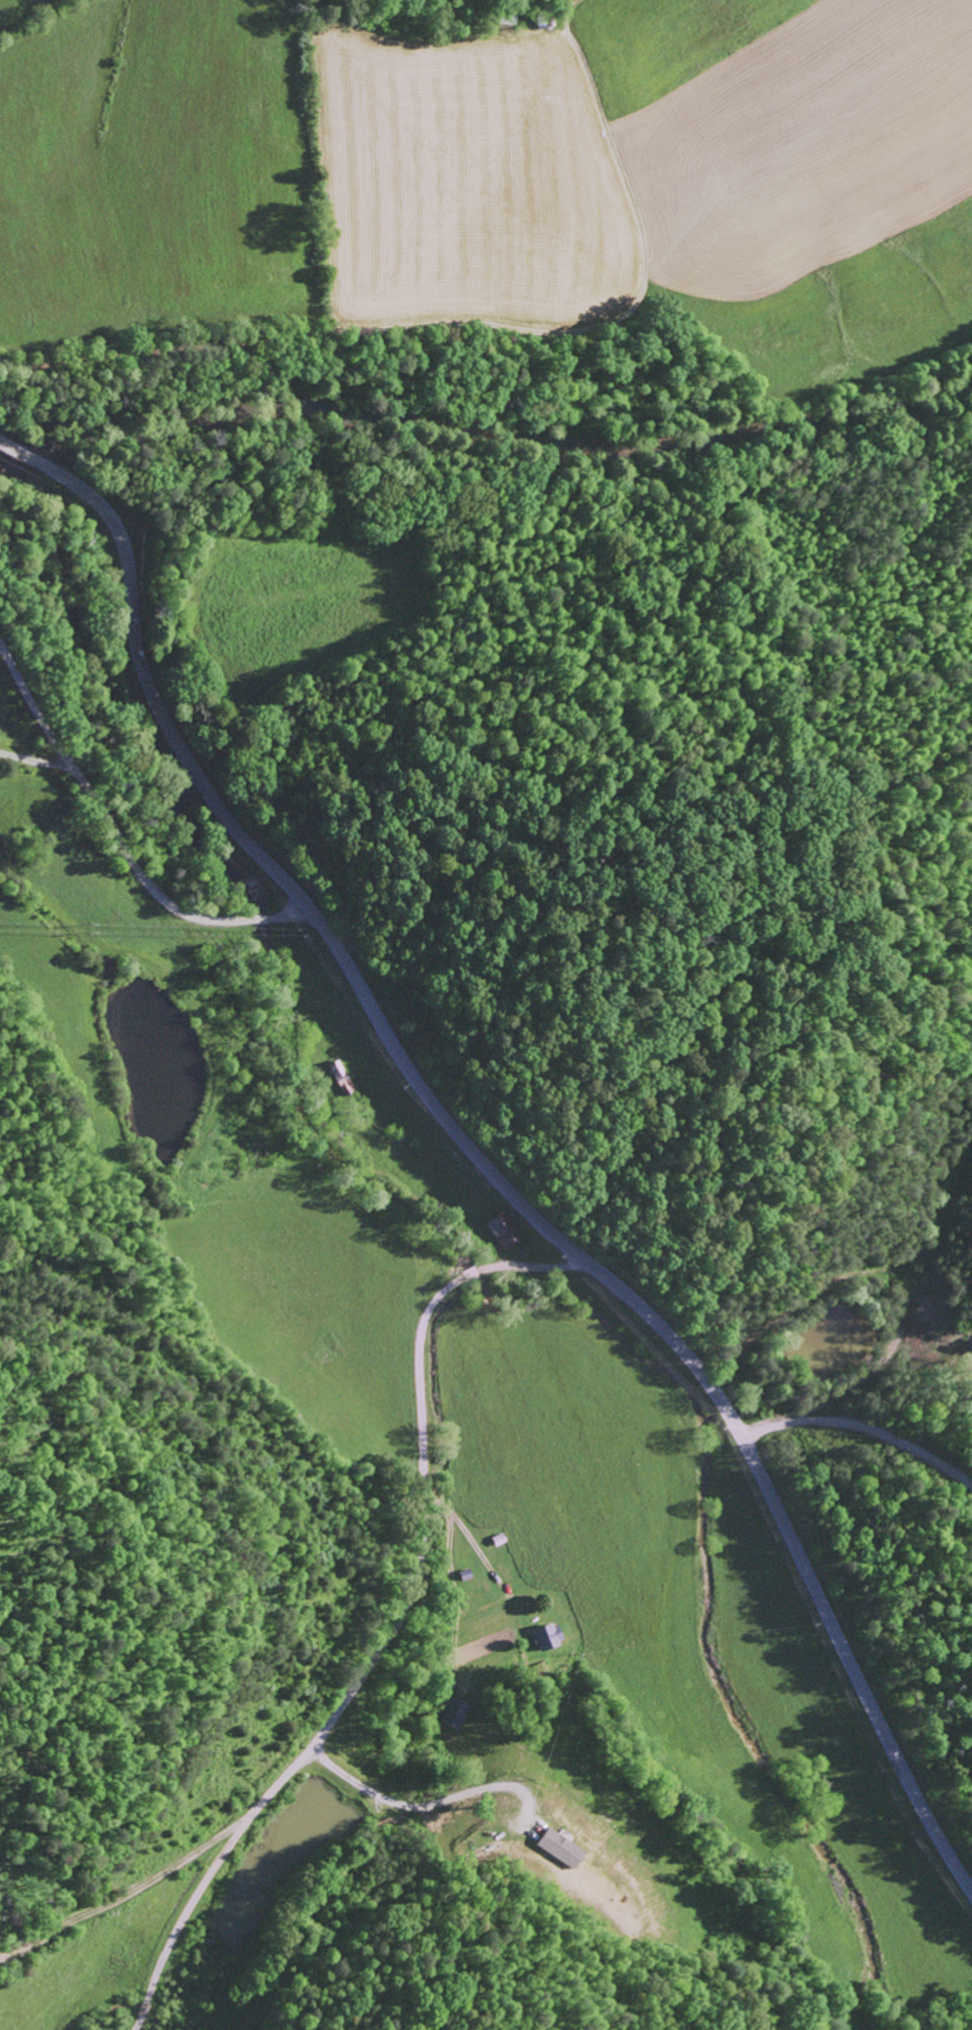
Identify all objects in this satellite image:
road: (526, 368)
road: (117, 839)
road: (482, 1160)
building: (504, 1229)
road: (399, 1623)
building: (548, 1636)
building: (454, 1713)
building: (559, 1848)
road: (131, 1894)

